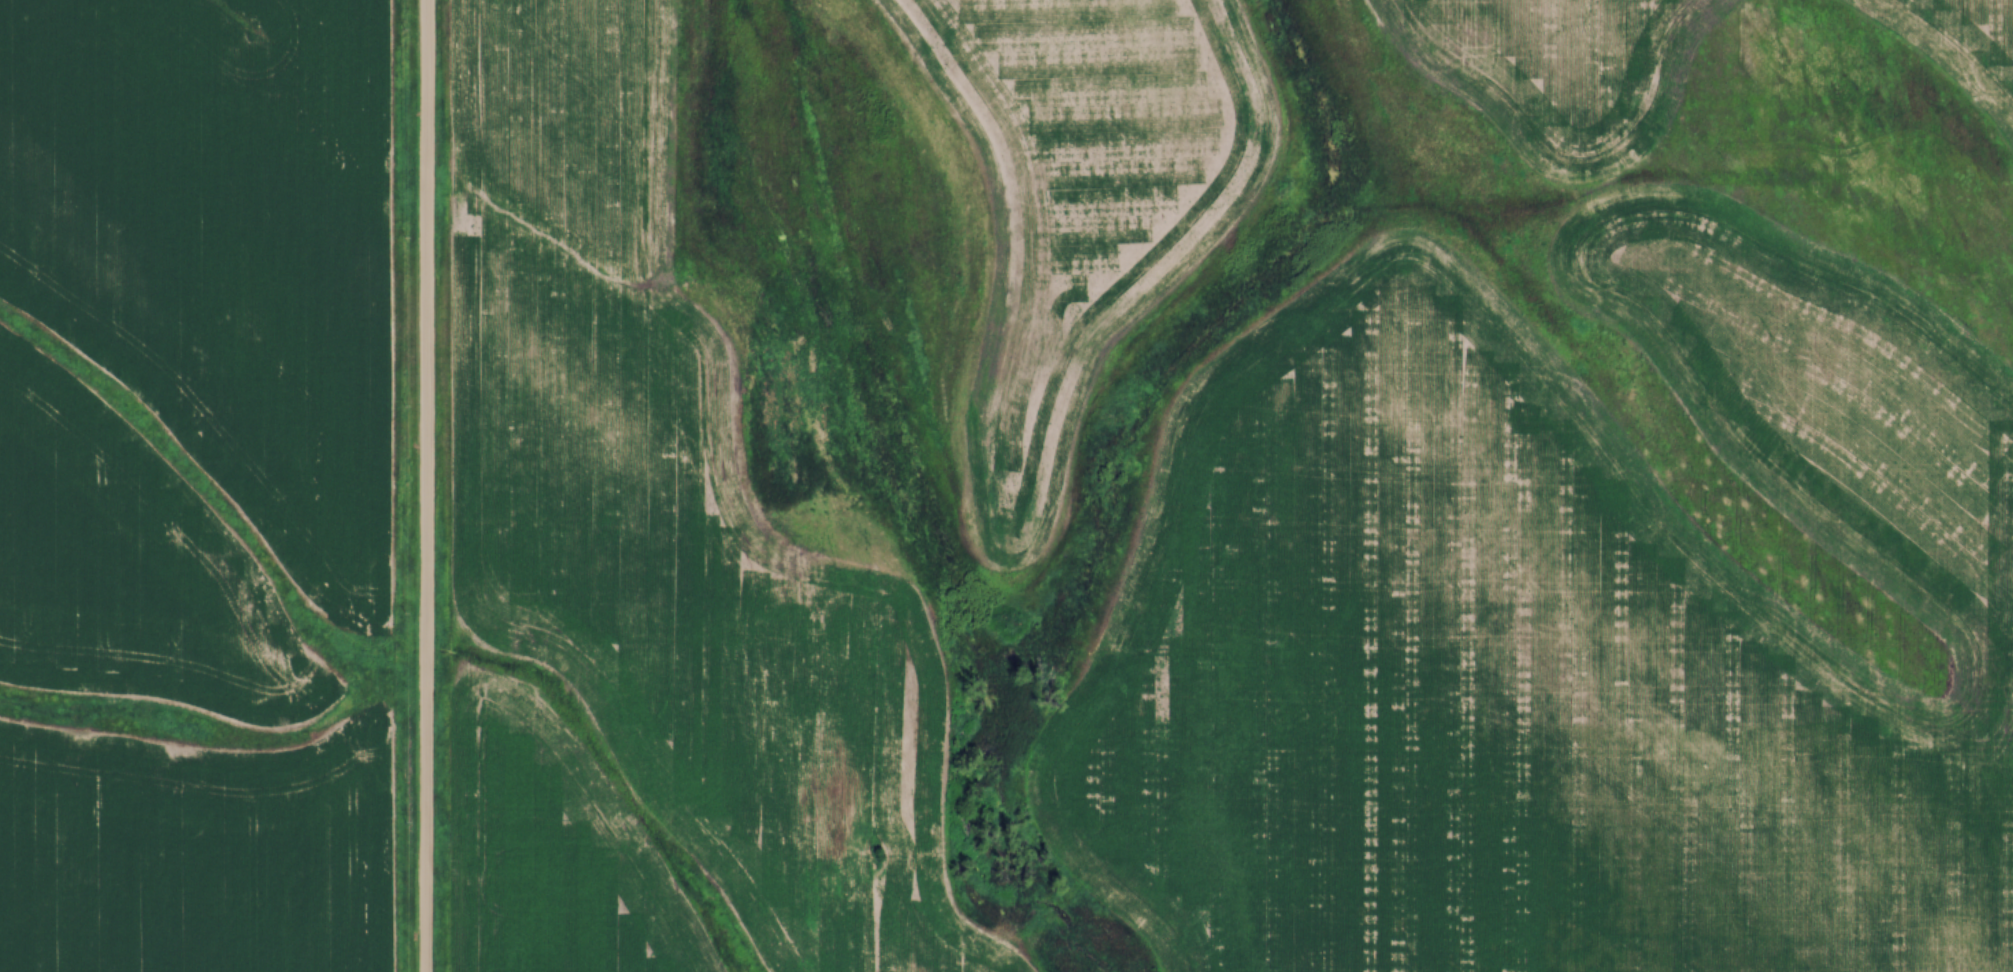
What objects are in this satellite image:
road: (425, 486)

